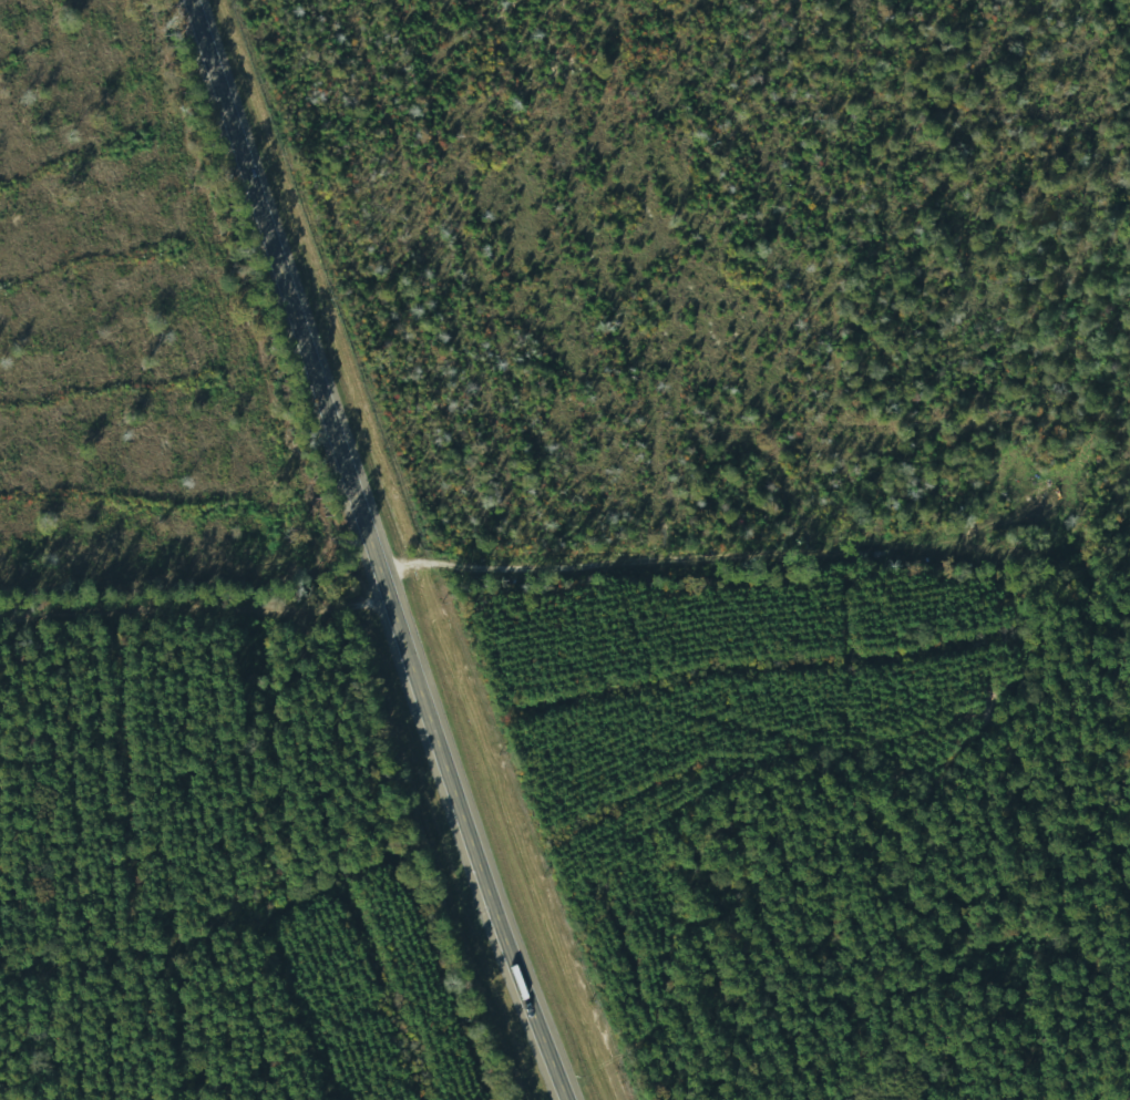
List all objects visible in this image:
road: (374, 551)
road: (195, 599)

